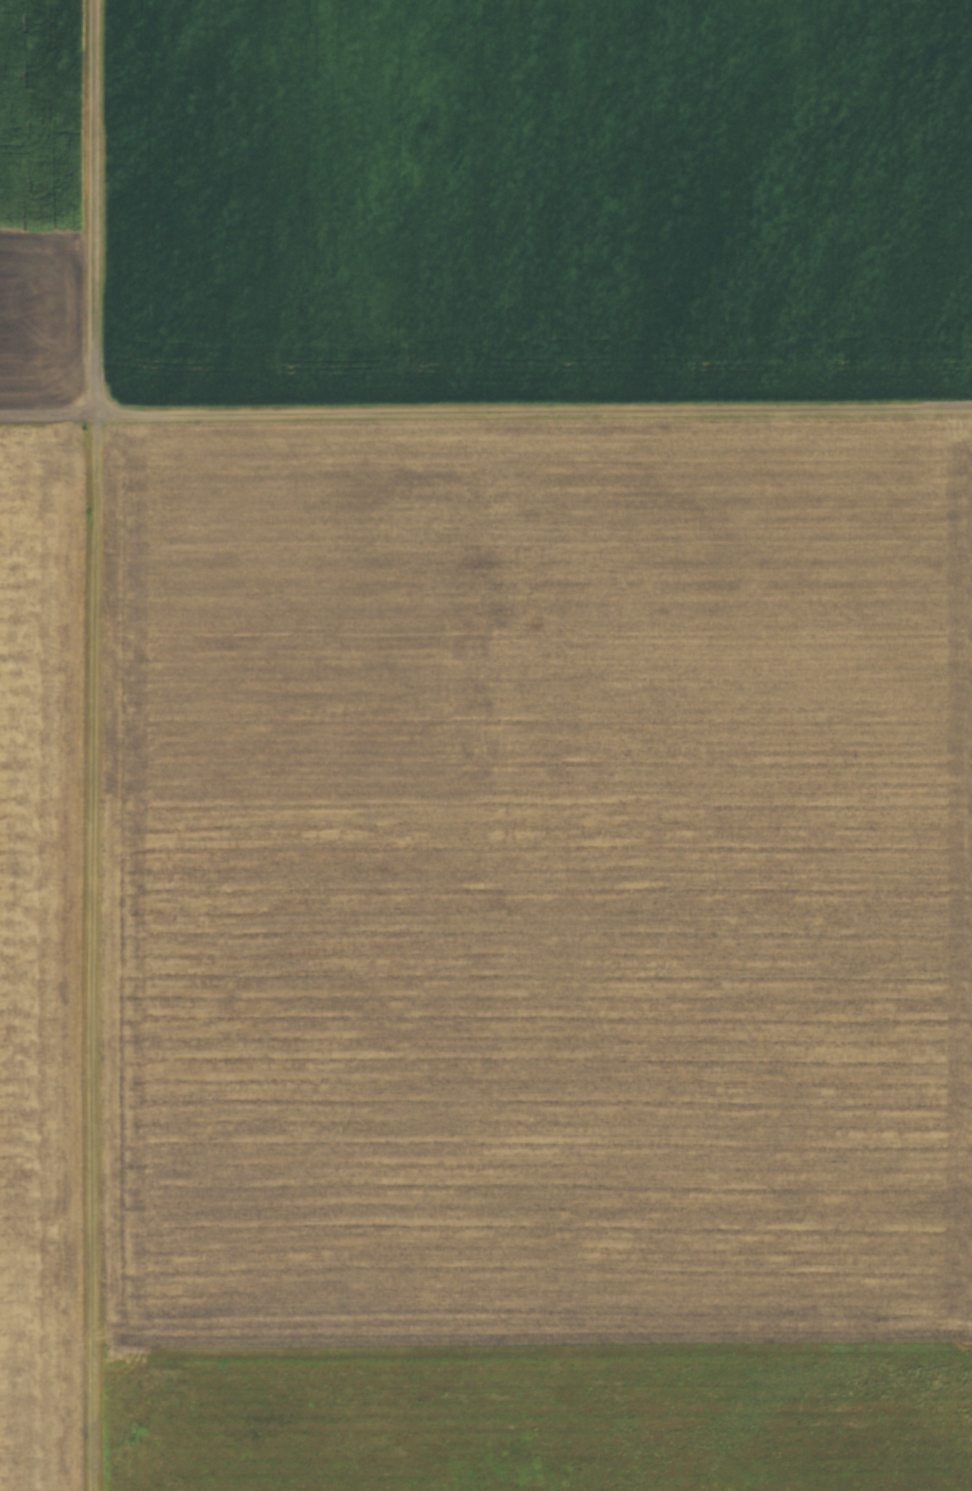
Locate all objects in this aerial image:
road: (486, 413)
road: (98, 745)

